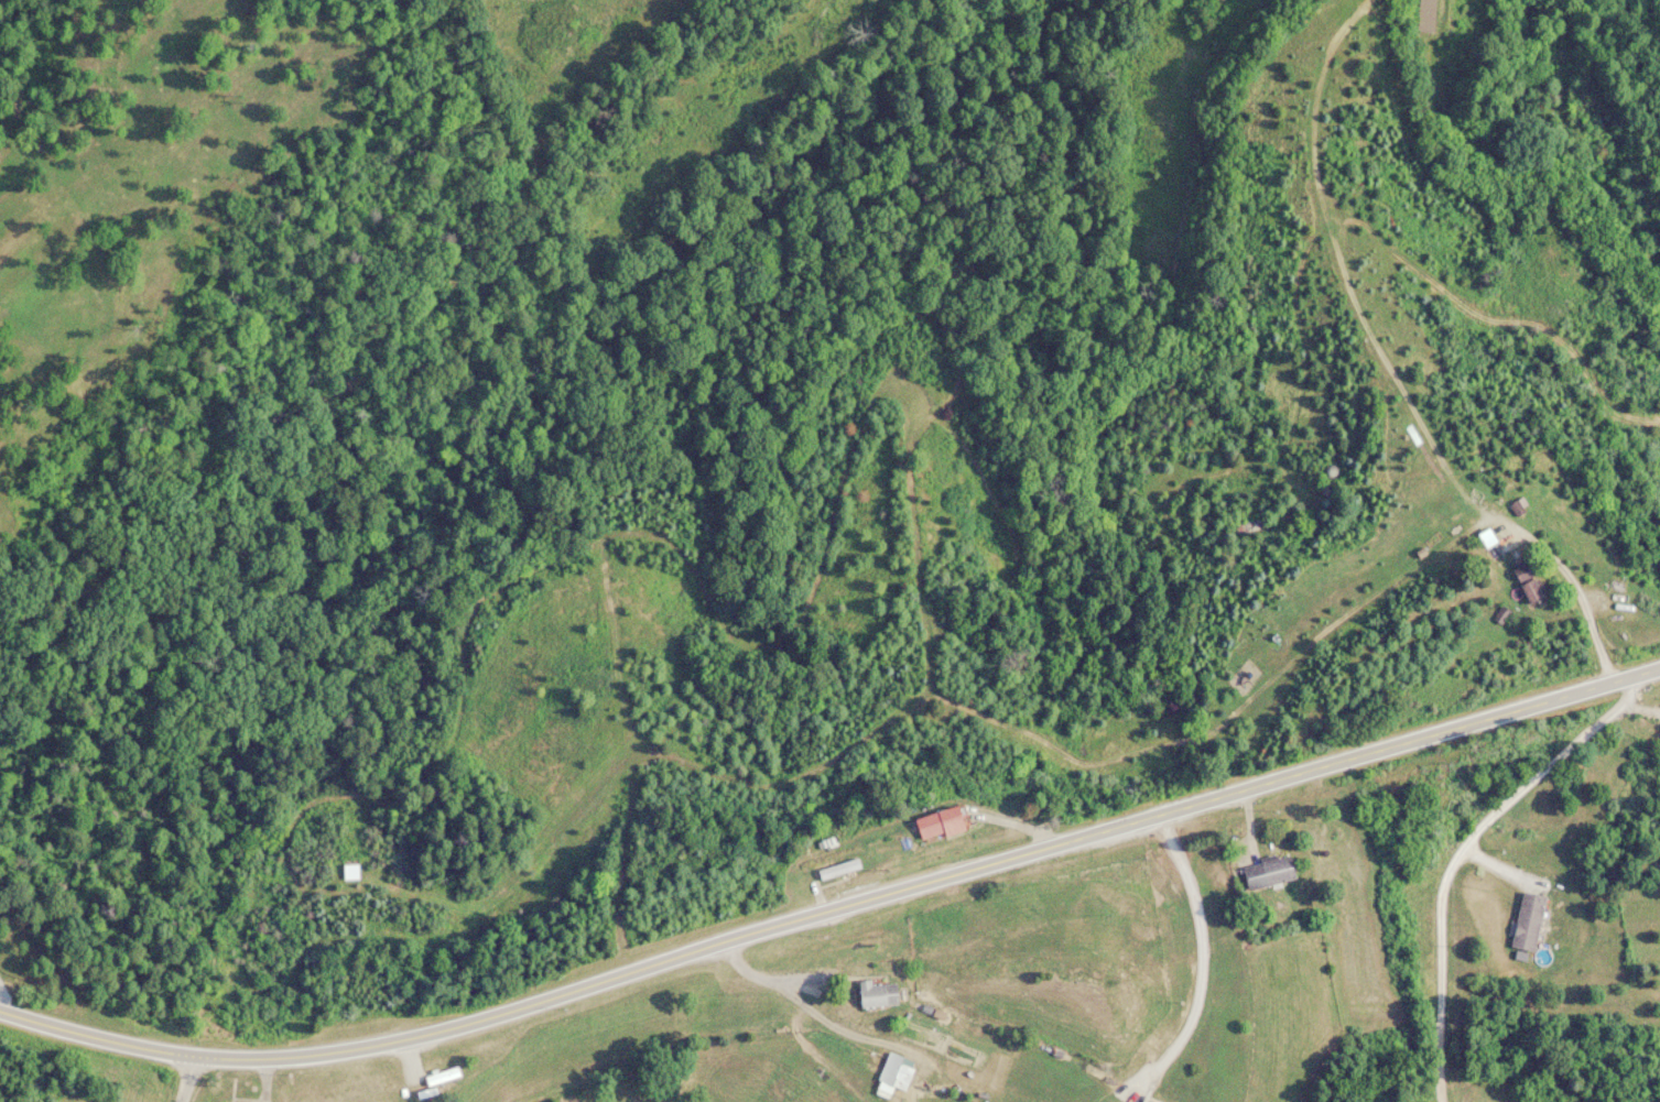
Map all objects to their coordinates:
building: (1490, 546)
building: (1530, 583)
building: (941, 826)
road: (1463, 844)
building: (839, 868)
building: (351, 873)
building: (1268, 874)
road: (834, 893)
building: (1530, 924)
building: (879, 995)
building: (898, 1072)
road: (134, 1077)
building: (444, 1077)
building: (1149, 1101)

